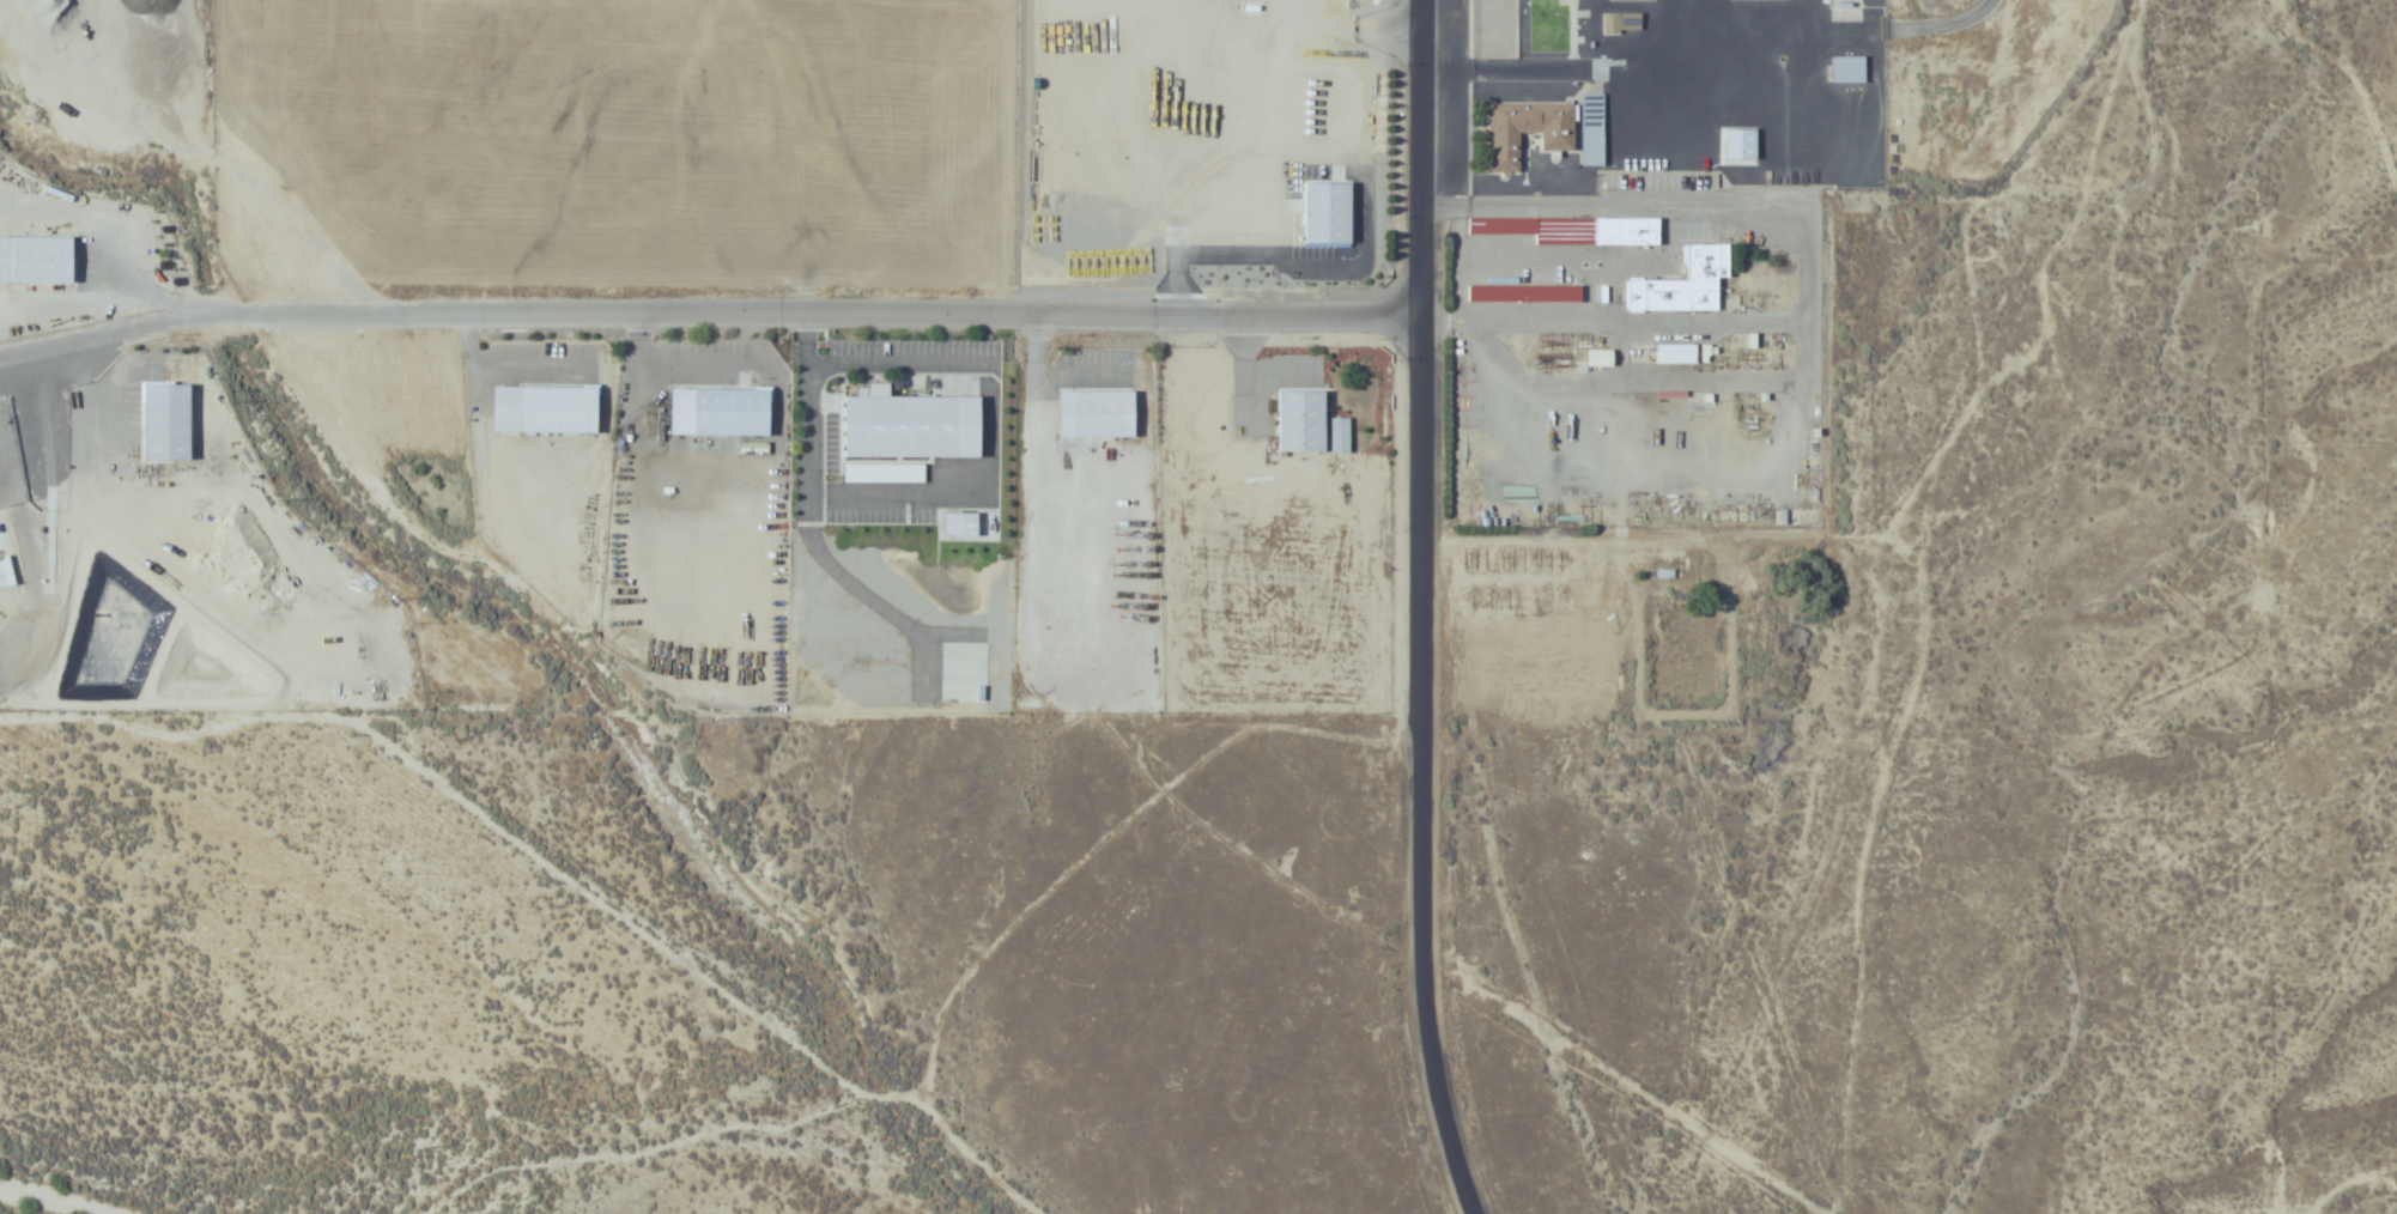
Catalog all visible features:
building: (1619, 24)
building: (1845, 69)
road: (1683, 81)
building: (1590, 130)
building: (1523, 133)
building: (1322, 213)
building: (1571, 231)
building: (43, 261)
building: (1682, 285)
building: (1523, 296)
road: (1807, 316)
road: (709, 321)
building: (1683, 354)
building: (1093, 415)
building: (1295, 423)
building: (1337, 436)
road: (1425, 609)

